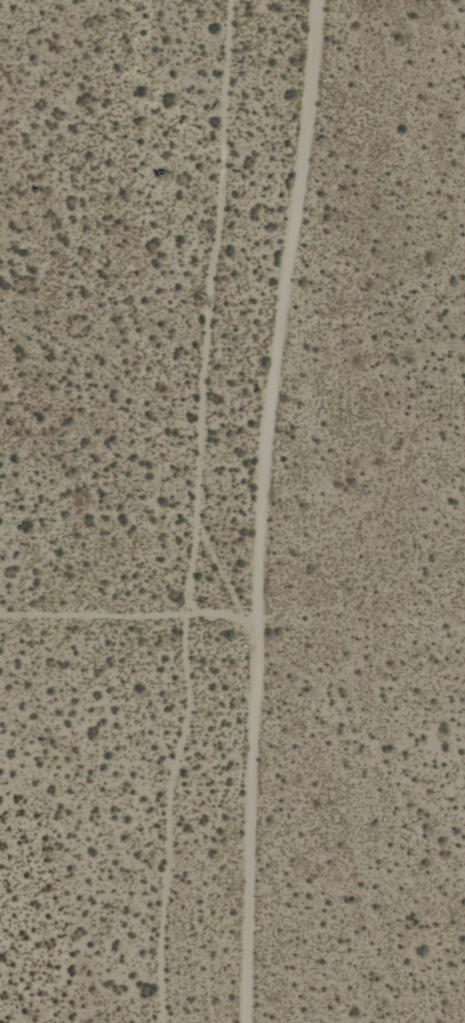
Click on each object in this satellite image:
road: (264, 510)
road: (130, 618)

